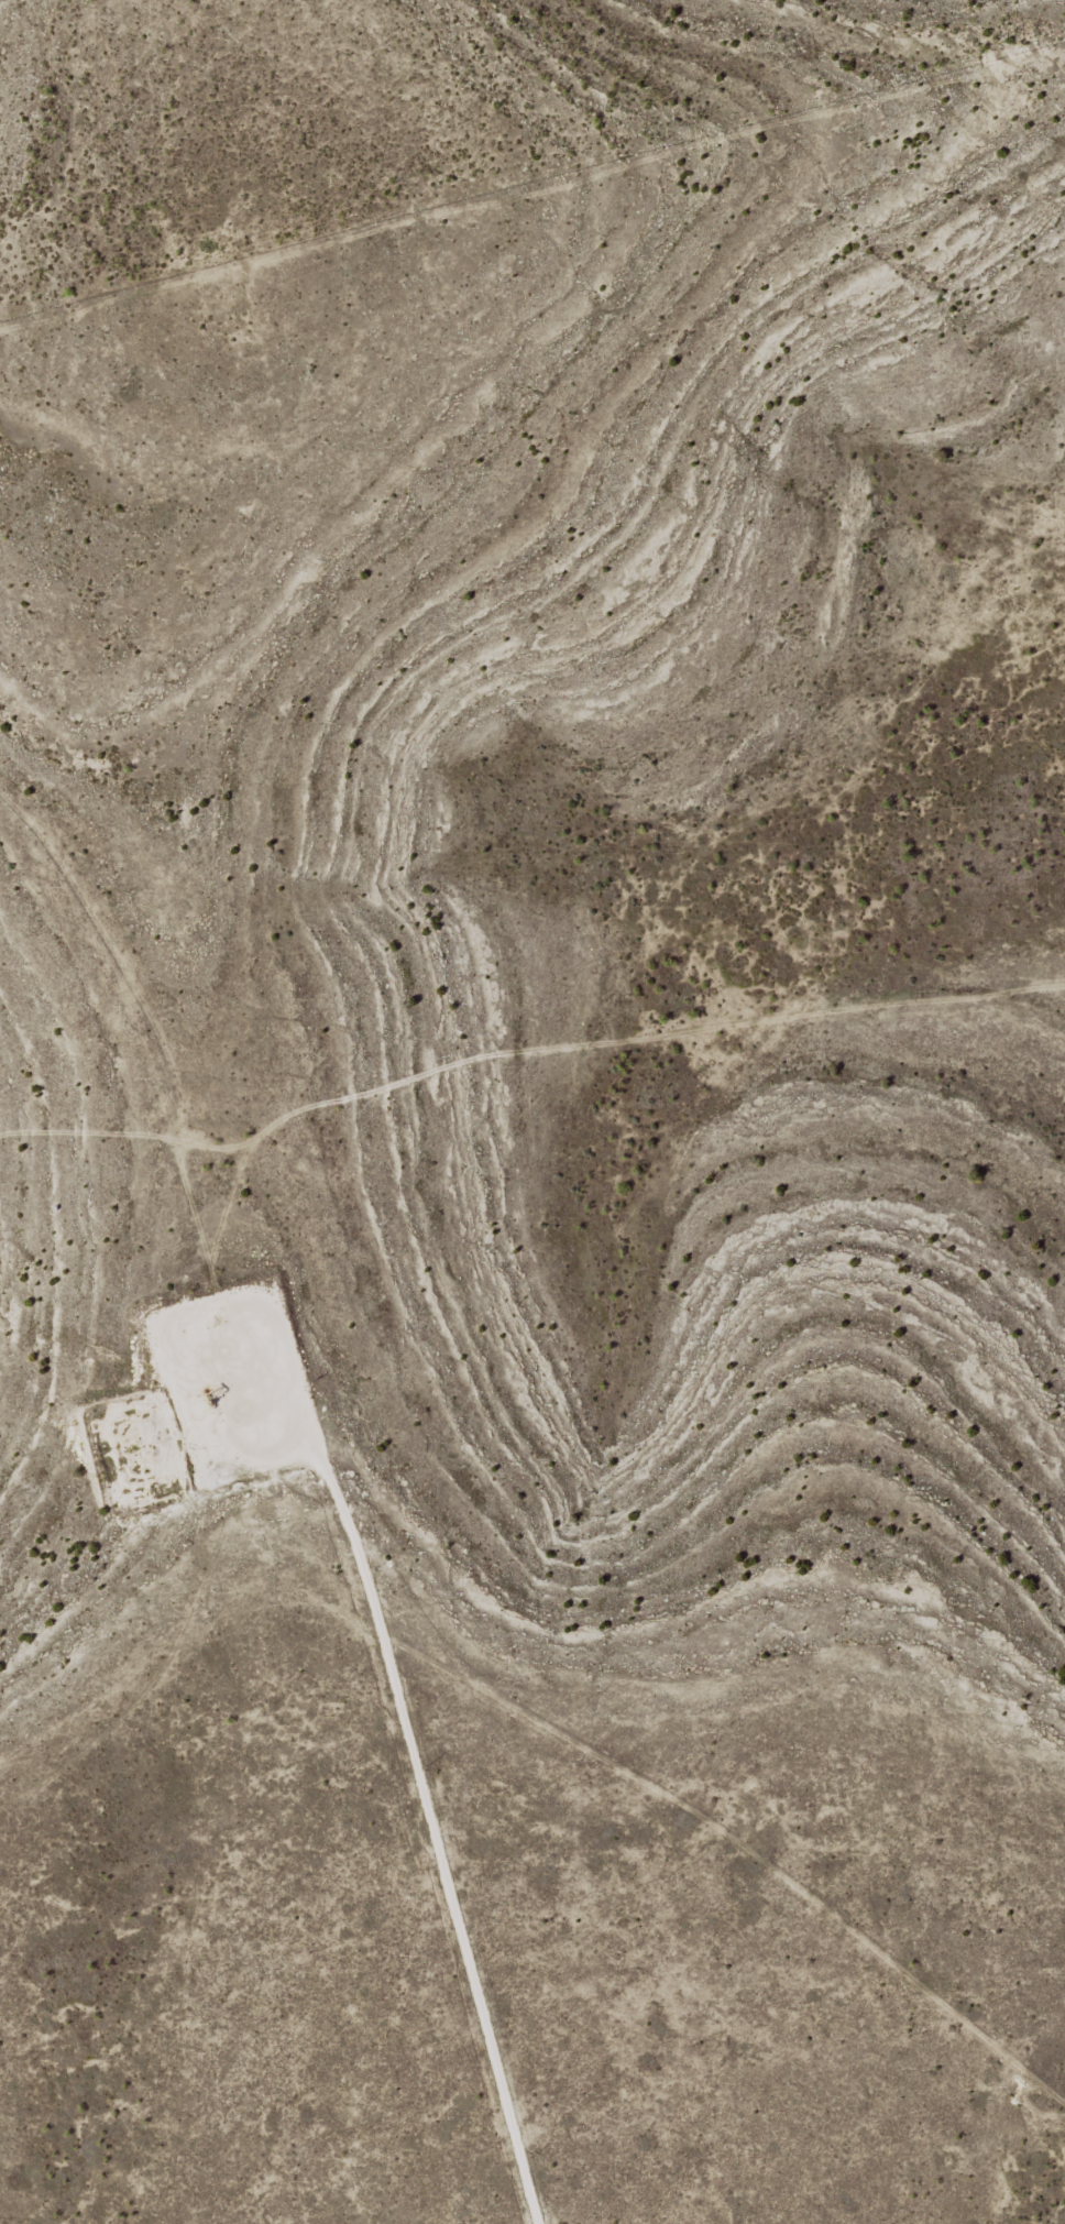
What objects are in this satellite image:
road: (312, 1166)

